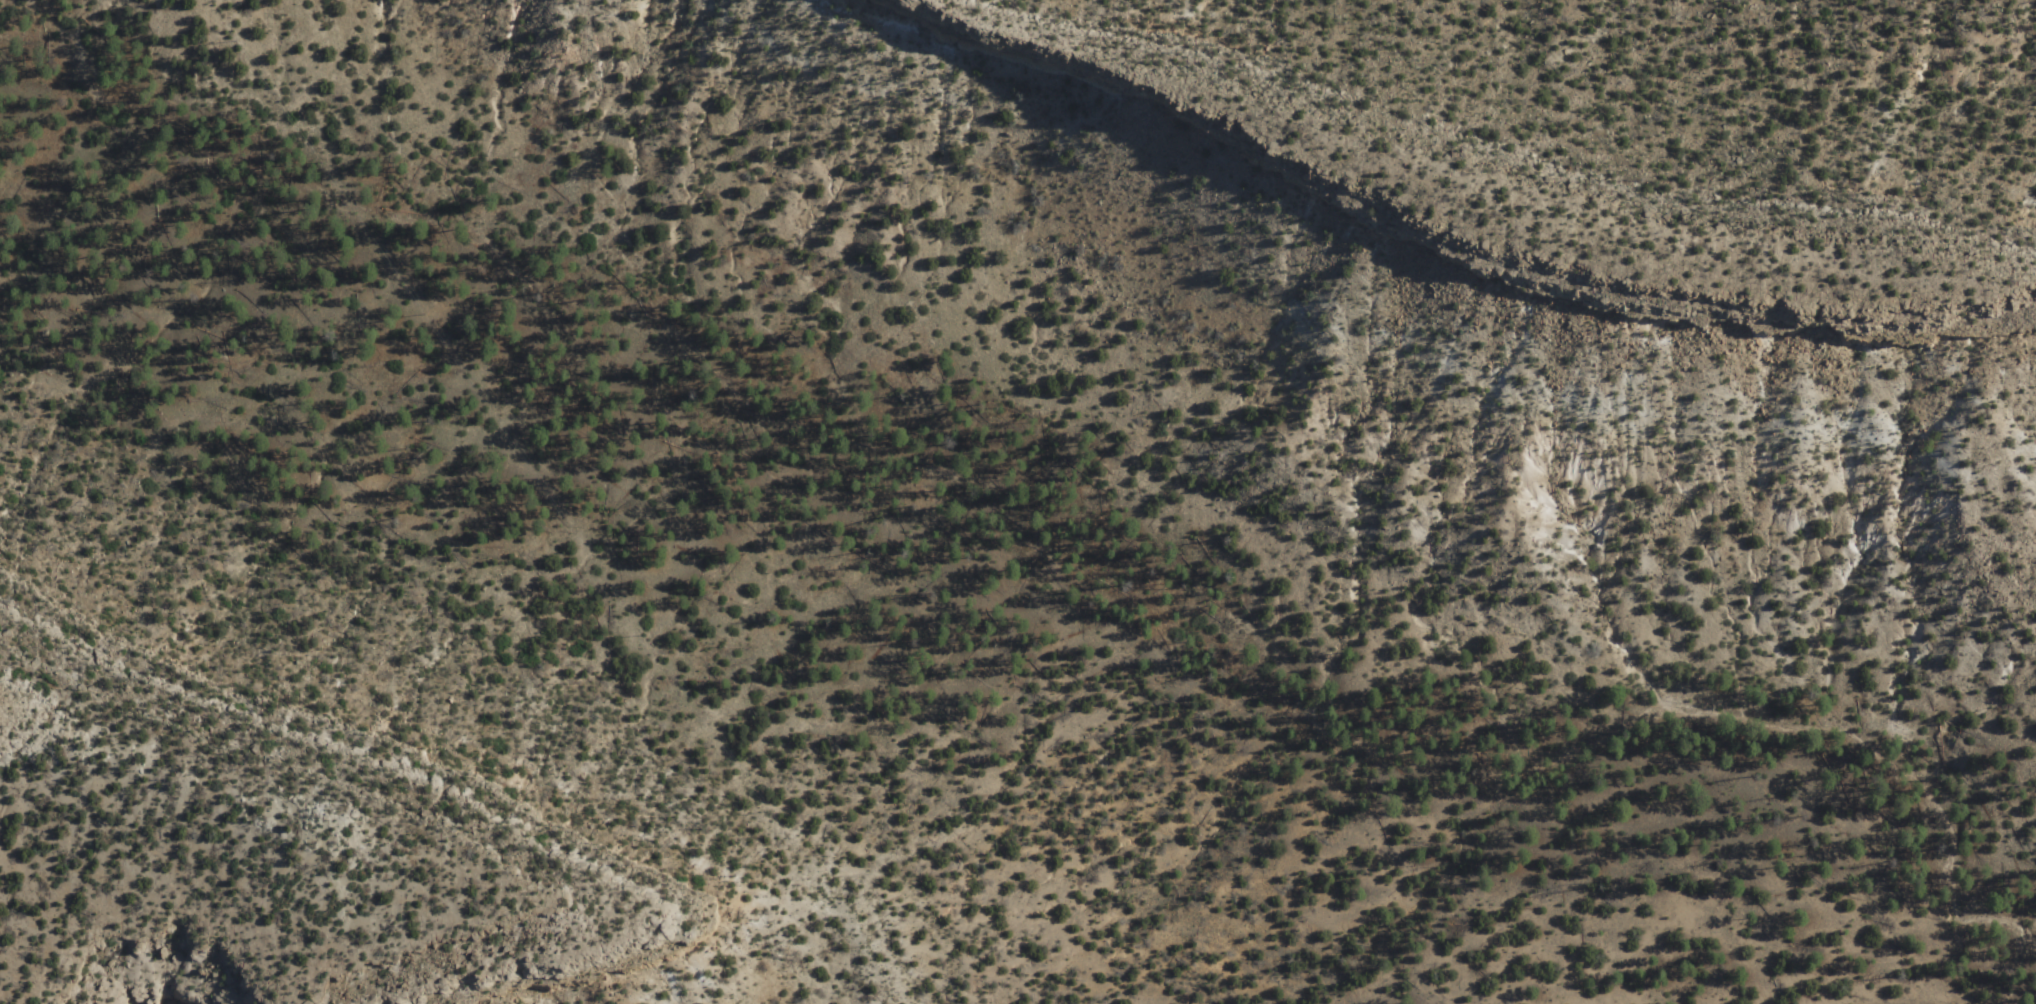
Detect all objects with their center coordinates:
road: (9, 987)

